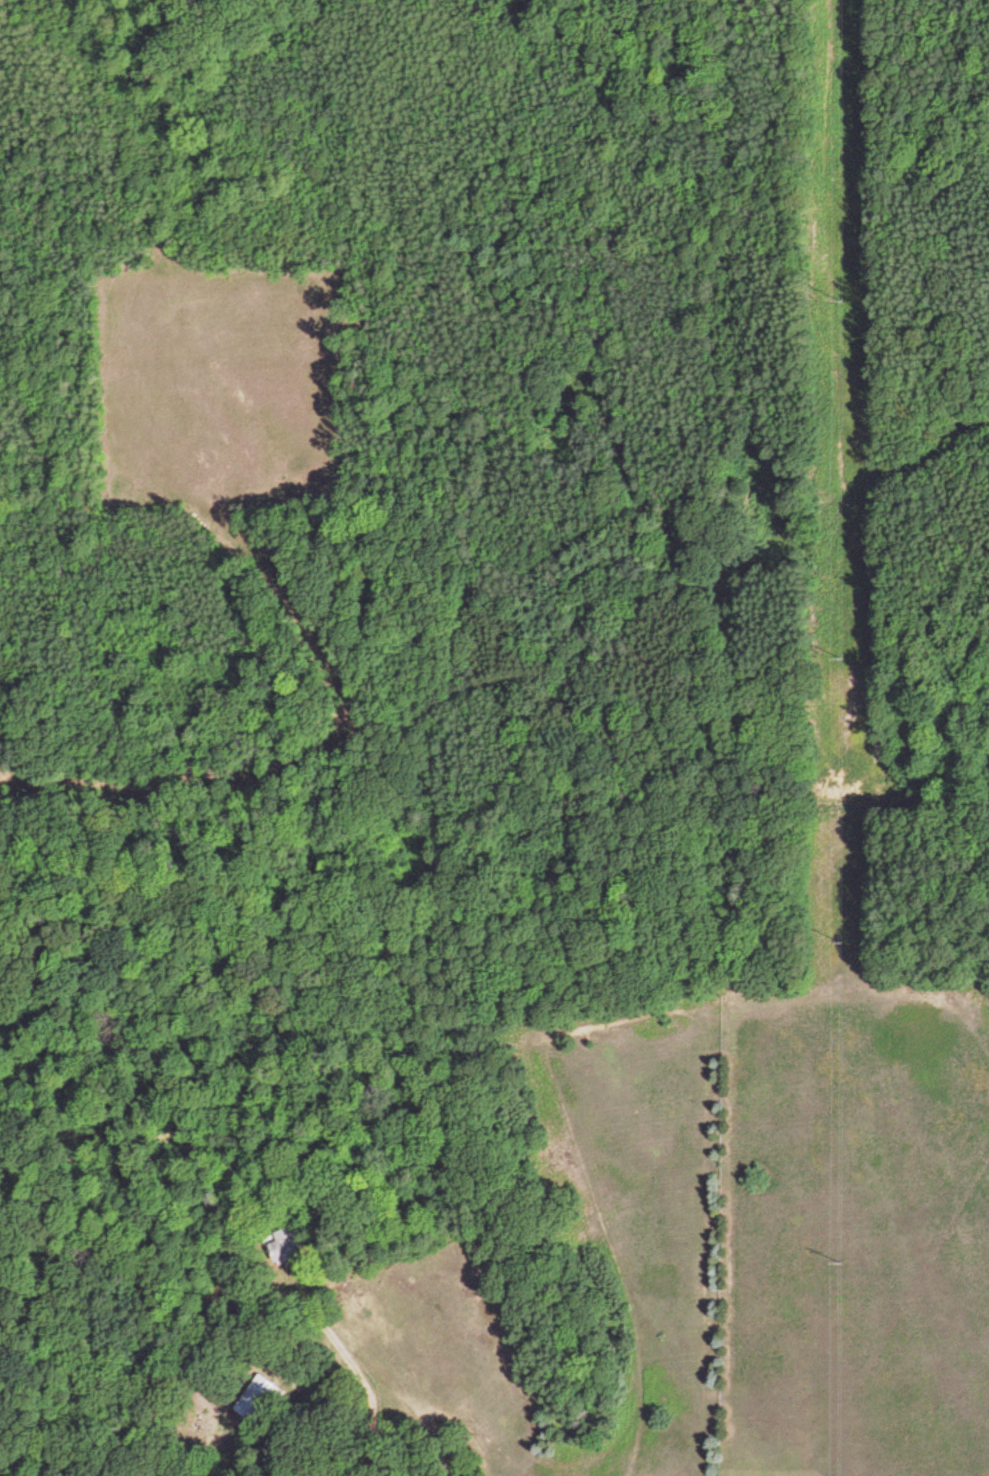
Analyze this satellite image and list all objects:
building: (284, 1246)

